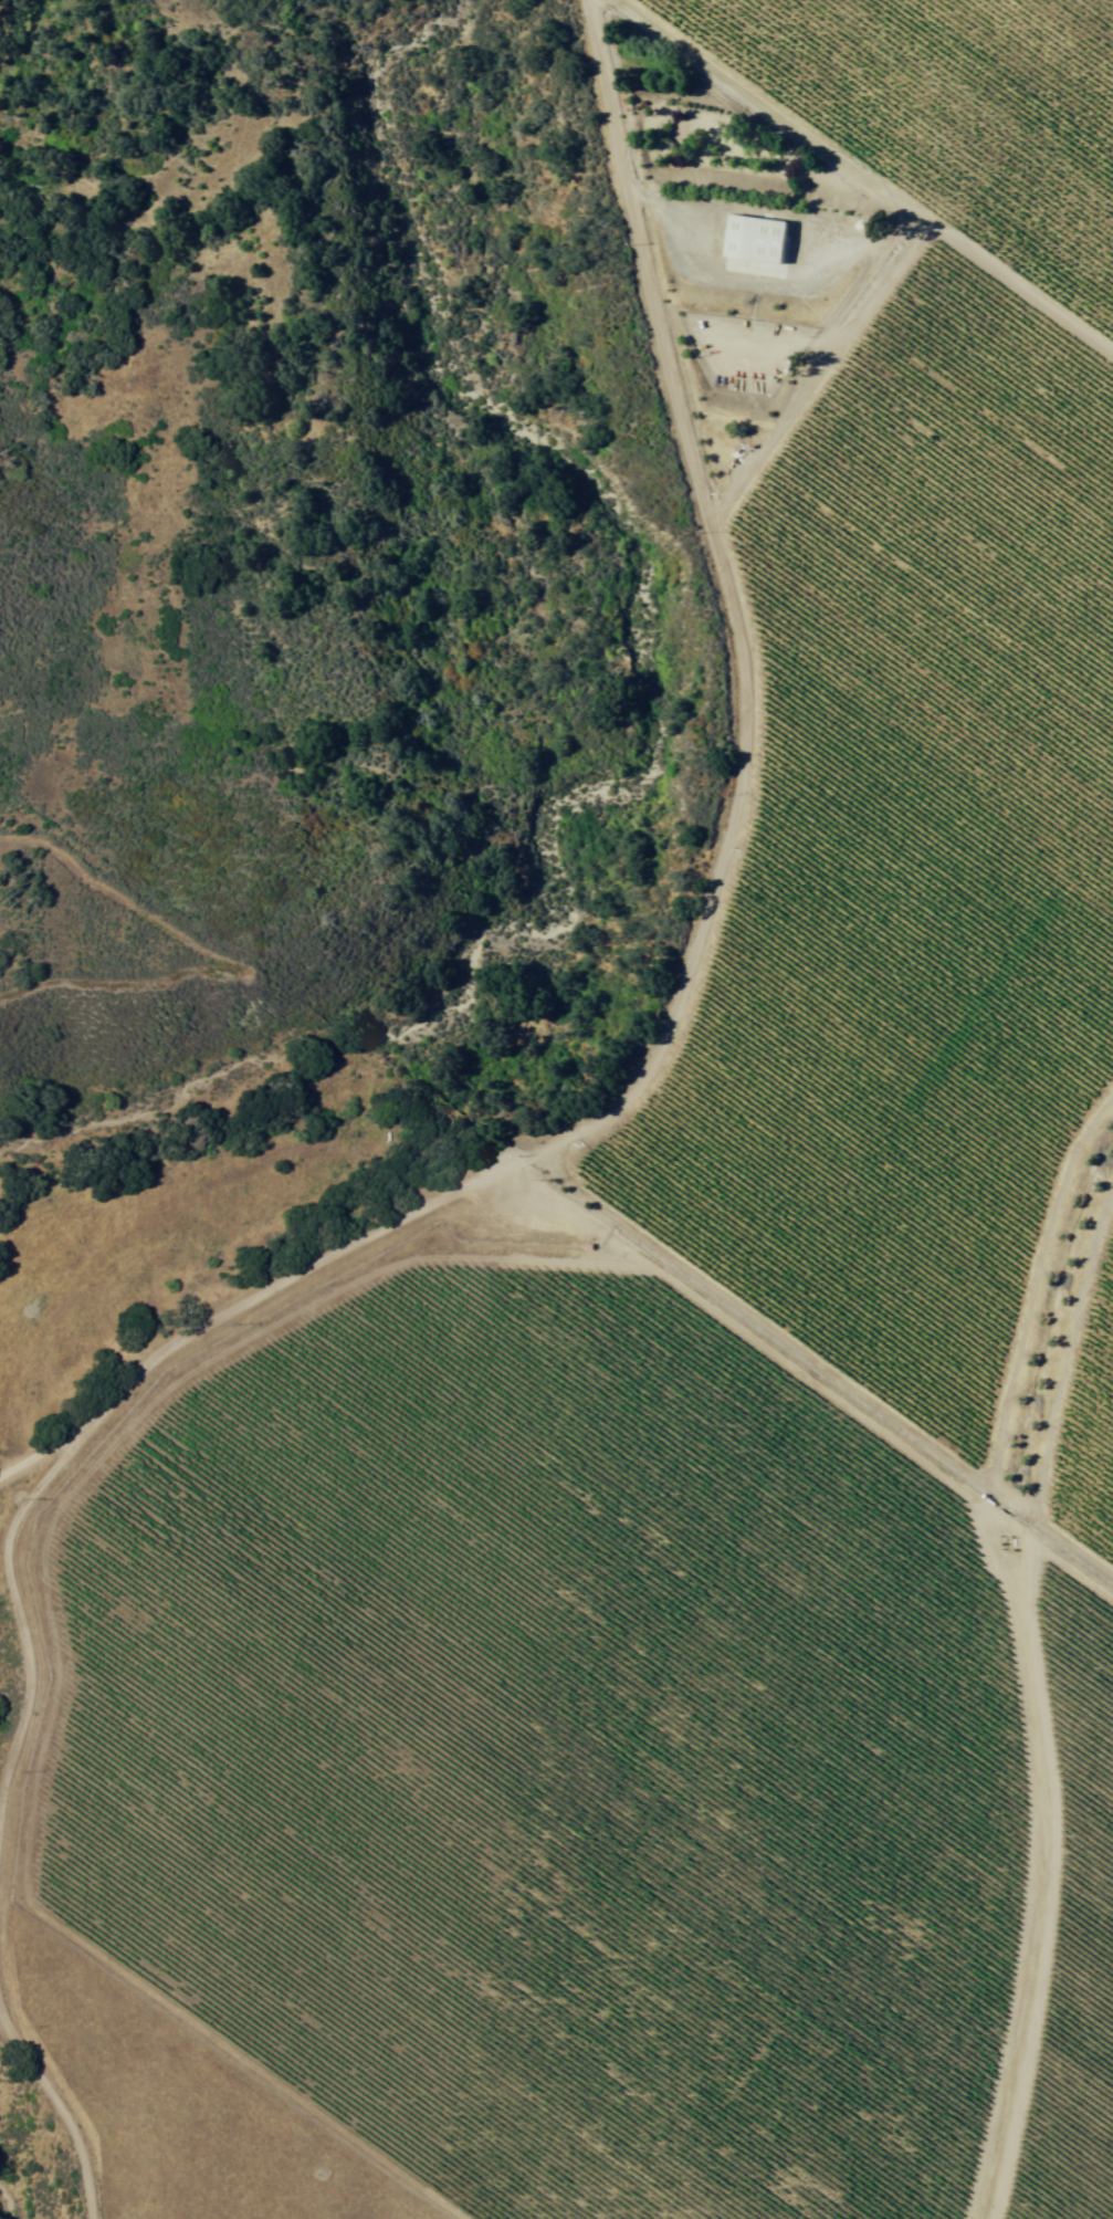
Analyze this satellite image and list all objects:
building: (759, 238)
road: (707, 922)
road: (22, 1698)
road: (48, 2106)

